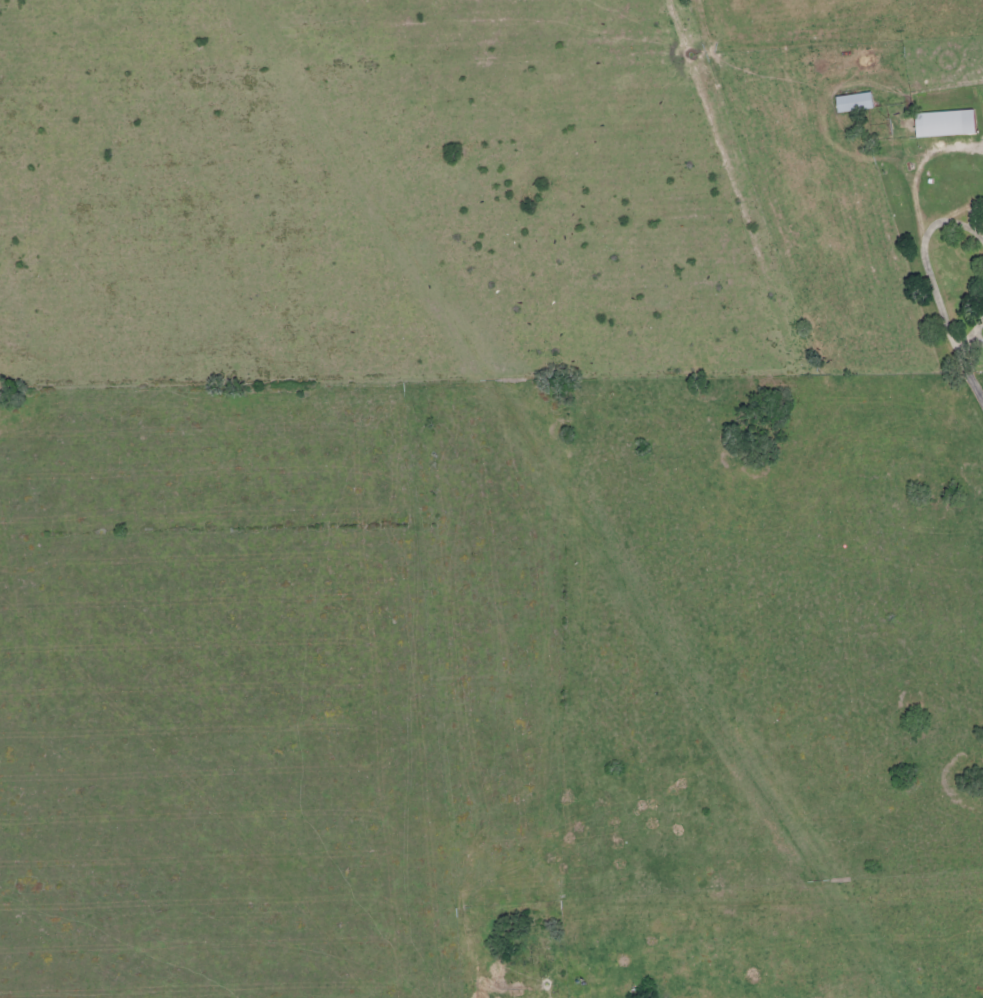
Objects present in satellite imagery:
building: (851, 101)
building: (941, 122)
road: (934, 285)

